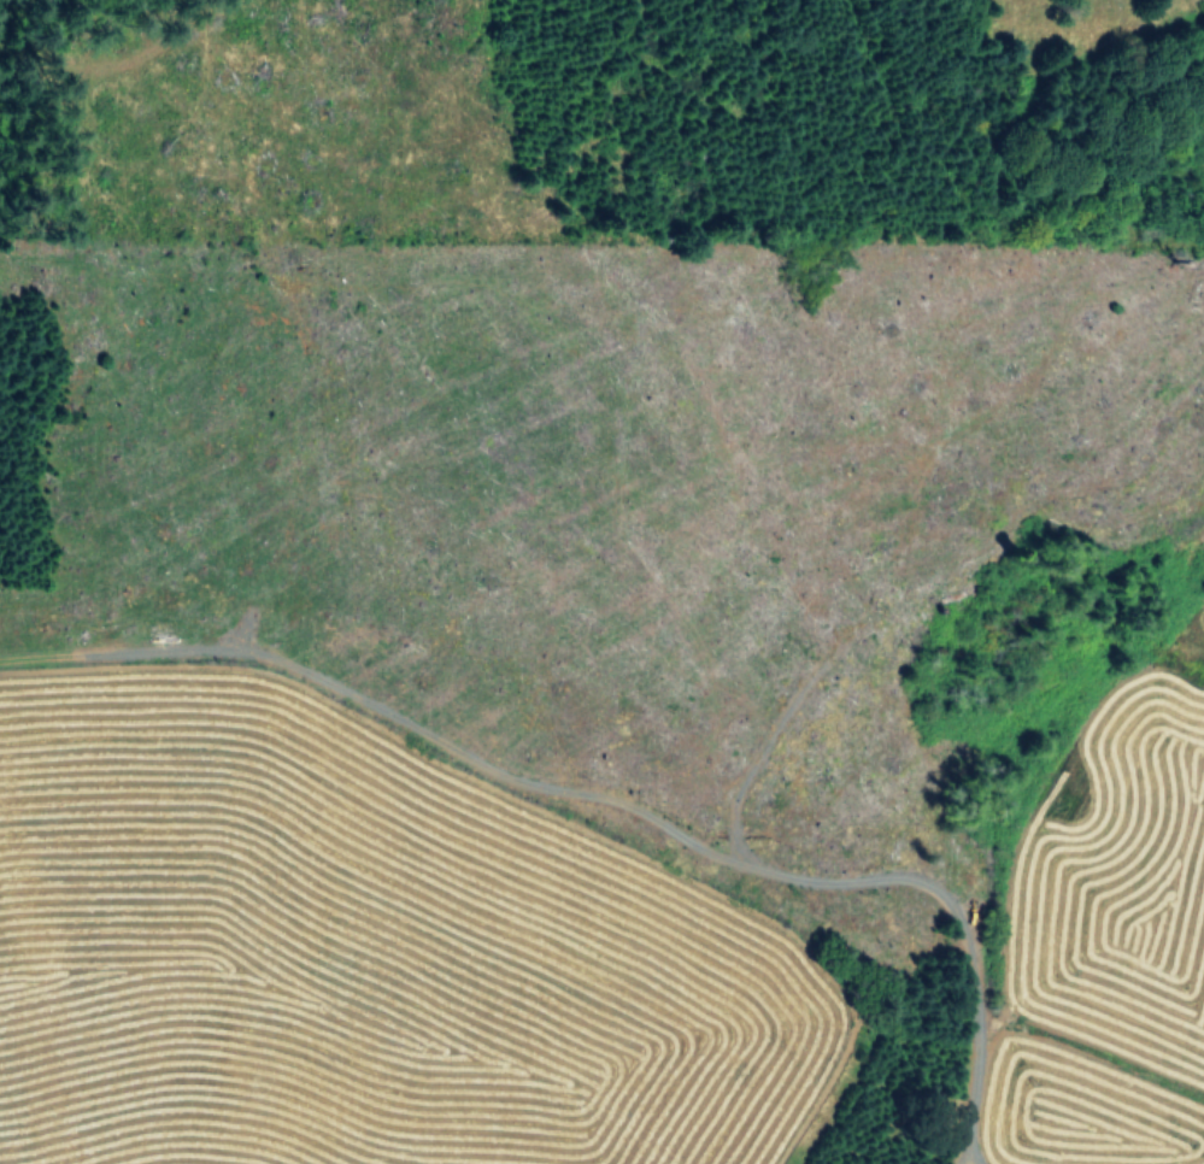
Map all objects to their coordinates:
crop: (1090, 951)

